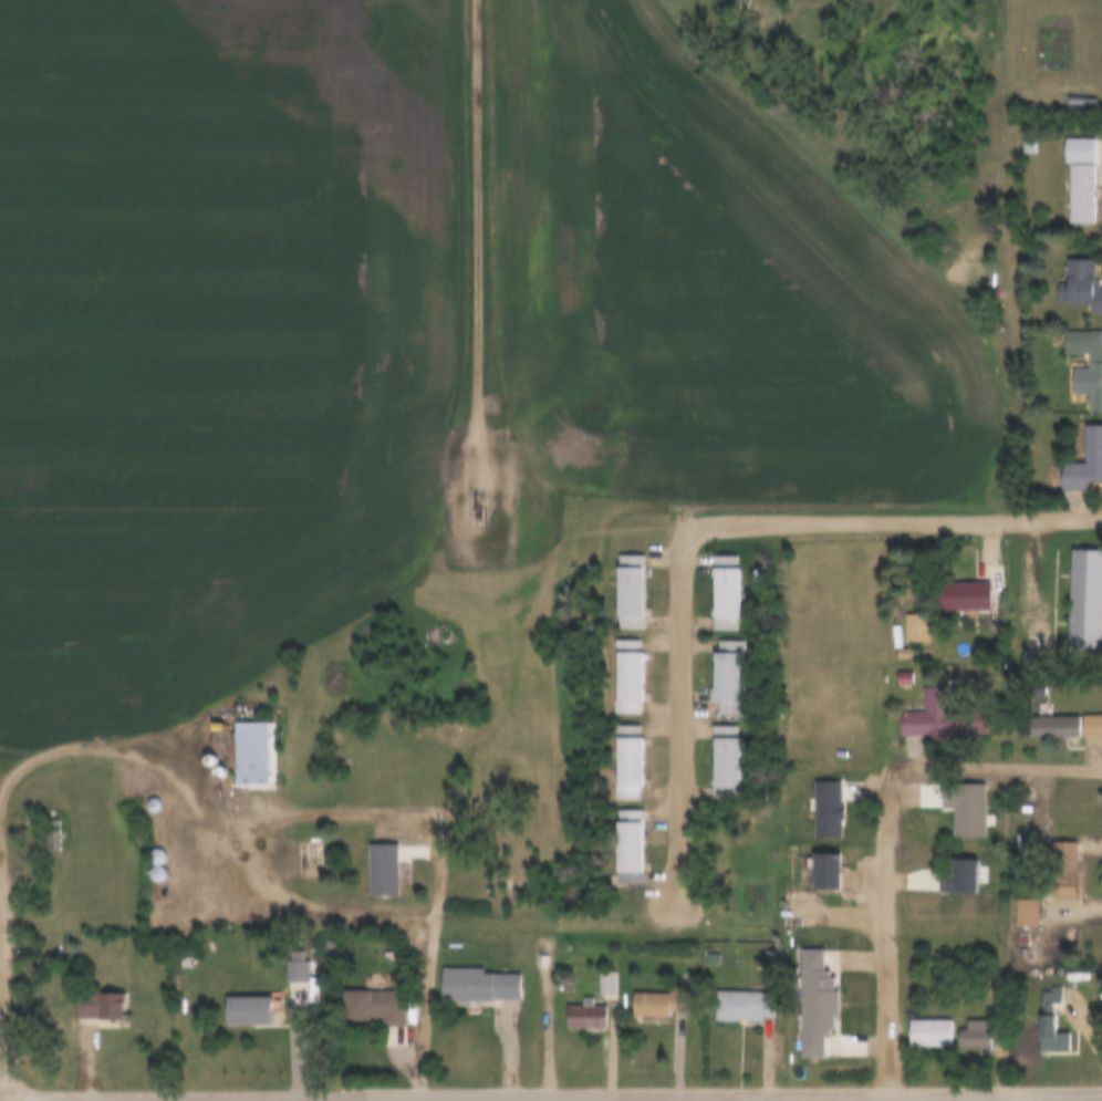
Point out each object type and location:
building: (1011, 135)
building: (1063, 168)
building: (1079, 178)
road: (479, 219)
storage tank: (976, 267)
building: (1068, 276)
building: (1074, 357)
building: (1073, 448)
road: (708, 523)
building: (614, 580)
building: (708, 581)
building: (948, 584)
building: (1069, 588)
building: (960, 595)
building: (720, 596)
building: (898, 616)
building: (914, 626)
building: (887, 642)
building: (611, 664)
building: (714, 664)
building: (887, 665)
building: (624, 676)
building: (925, 707)
building: (1036, 714)
building: (1077, 714)
building: (1051, 726)
building: (236, 741)
building: (196, 748)
silo: (196, 748)
building: (611, 749)
building: (708, 750)
building: (256, 752)
building: (205, 760)
silo: (205, 760)
building: (622, 761)
road: (987, 765)
building: (137, 792)
silo: (137, 792)
building: (948, 796)
building: (811, 797)
building: (1009, 797)
road: (333, 802)
storage tank: (299, 825)
building: (613, 837)
building: (141, 844)
silo: (141, 844)
building: (367, 858)
building: (1047, 859)
building: (811, 860)
building: (142, 861)
silo: (142, 861)
building: (940, 864)
building: (162, 865)
building: (387, 870)
road: (1, 874)
road: (1068, 875)
building: (1010, 900)
road: (304, 905)
building: (1022, 912)
storage tank: (773, 927)
building: (1005, 927)
road: (6, 928)
building: (731, 929)
storage tank: (438, 931)
building: (281, 958)
building: (591, 970)
building: (299, 972)
building: (462, 973)
building: (604, 983)
road: (549, 985)
building: (487, 987)
building: (153, 989)
building: (799, 990)
building: (637, 991)
building: (86, 993)
building: (728, 994)
building: (358, 995)
building: (232, 999)
building: (569, 1003)
building: (646, 1005)
building: (740, 1006)
building: (105, 1007)
building: (380, 1008)
building: (257, 1012)
building: (583, 1017)
building: (914, 1021)
building: (958, 1022)
building: (1035, 1024)
building: (925, 1034)
building: (973, 1036)
building: (1049, 1036)
storage tank: (773, 1045)
road: (80, 1100)
road: (963, 1100)

